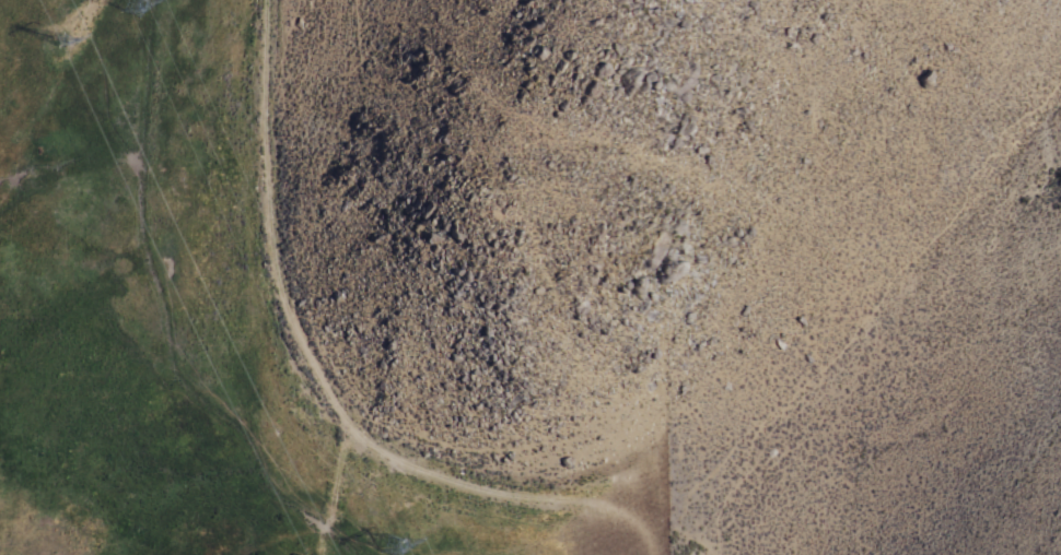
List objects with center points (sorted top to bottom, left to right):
power tower: (136, 7)
power tower: (60, 43)
road: (324, 379)
power tower: (385, 543)

